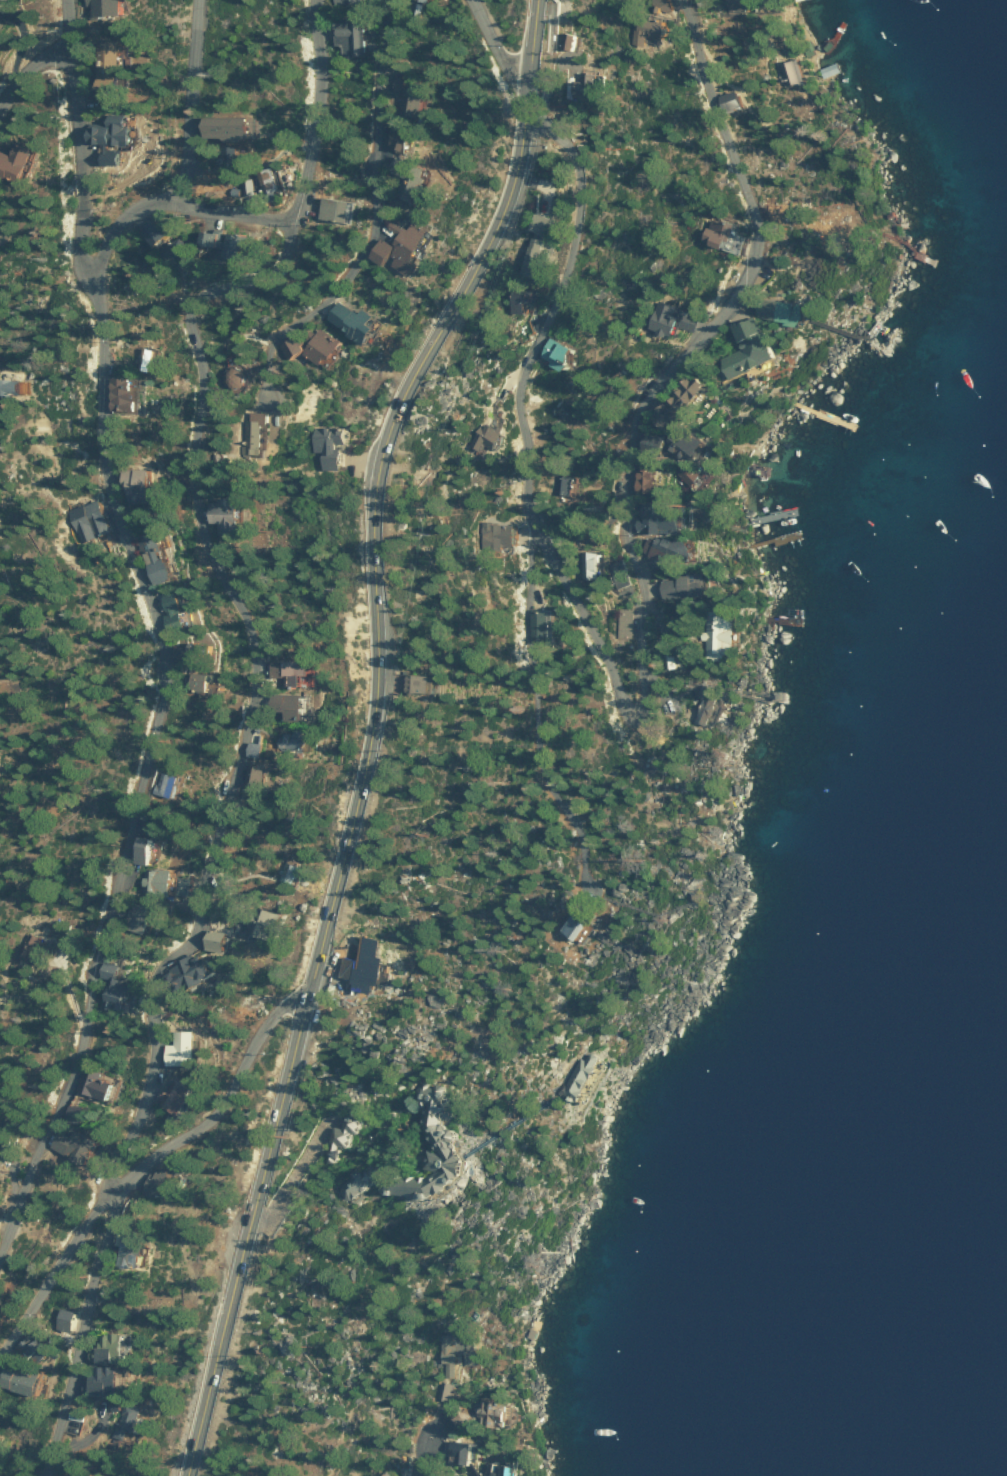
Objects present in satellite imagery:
building: (421, 1)
building: (347, 2)
building: (106, 5)
building: (655, 29)
building: (352, 31)
pier: (830, 38)
building: (573, 40)
road: (495, 44)
building: (109, 66)
road: (30, 73)
building: (408, 91)
road: (192, 98)
building: (232, 125)
building: (117, 130)
building: (405, 137)
building: (230, 160)
building: (21, 162)
building: (408, 175)
building: (271, 184)
building: (249, 187)
road: (169, 198)
building: (336, 201)
road: (371, 216)
building: (217, 239)
building: (409, 239)
building: (167, 243)
building: (243, 245)
building: (538, 245)
pier: (919, 253)
building: (528, 299)
building: (673, 320)
building: (358, 321)
pier: (864, 337)
building: (319, 348)
building: (567, 353)
building: (147, 355)
building: (12, 388)
building: (135, 394)
pier: (821, 414)
building: (494, 437)
building: (334, 446)
building: (649, 481)
building: (562, 484)
building: (145, 485)
building: (233, 514)
pier: (772, 517)
building: (86, 520)
building: (667, 521)
building: (502, 535)
pier: (773, 540)
building: (658, 552)
building: (160, 560)
building: (599, 565)
building: (177, 613)
pier: (778, 621)
road: (164, 632)
building: (201, 653)
road: (651, 662)
building: (296, 672)
building: (207, 682)
building: (427, 683)
road: (524, 692)
pier: (767, 695)
building: (296, 707)
road: (245, 721)
road: (369, 733)
building: (290, 741)
building: (259, 748)
building: (1, 756)
building: (260, 774)
building: (169, 785)
building: (149, 847)
building: (292, 872)
building: (158, 882)
building: (187, 887)
building: (140, 919)
building: (269, 925)
building: (581, 927)
building: (225, 941)
building: (374, 966)
building: (195, 973)
building: (120, 988)
building: (186, 1050)
building: (584, 1077)
building: (100, 1085)
building: (177, 1097)
building: (78, 1114)
building: (371, 1138)
building: (345, 1139)
building: (452, 1142)
building: (81, 1146)
building: (4, 1152)
road: (138, 1163)
building: (166, 1184)
building: (138, 1251)
building: (70, 1319)
building: (116, 1349)
building: (44, 1350)
building: (459, 1350)
building: (109, 1381)
building: (28, 1382)
building: (444, 1390)
building: (126, 1419)
building: (468, 1449)
road: (428, 1456)
building: (504, 1469)

